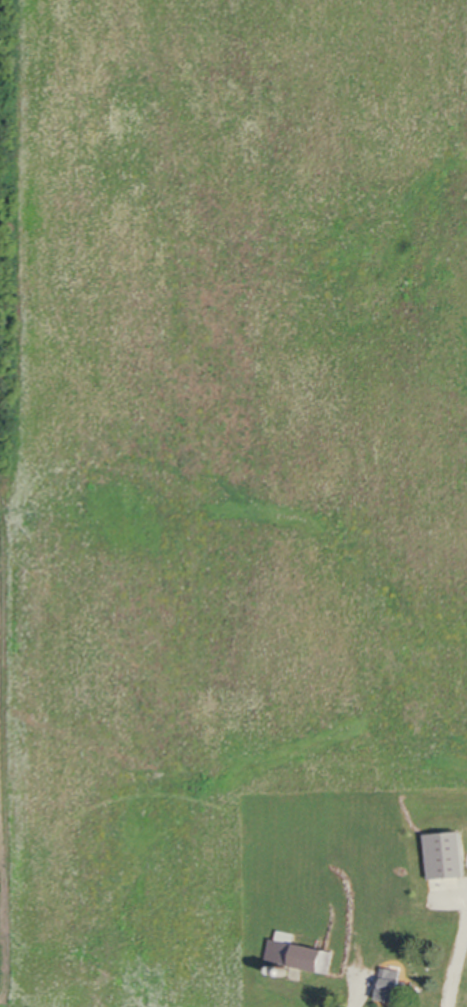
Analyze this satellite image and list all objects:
building: (414, 869)
building: (317, 896)
building: (437, 904)
road: (460, 939)
building: (300, 958)
building: (359, 963)
building: (384, 987)
road: (362, 992)

